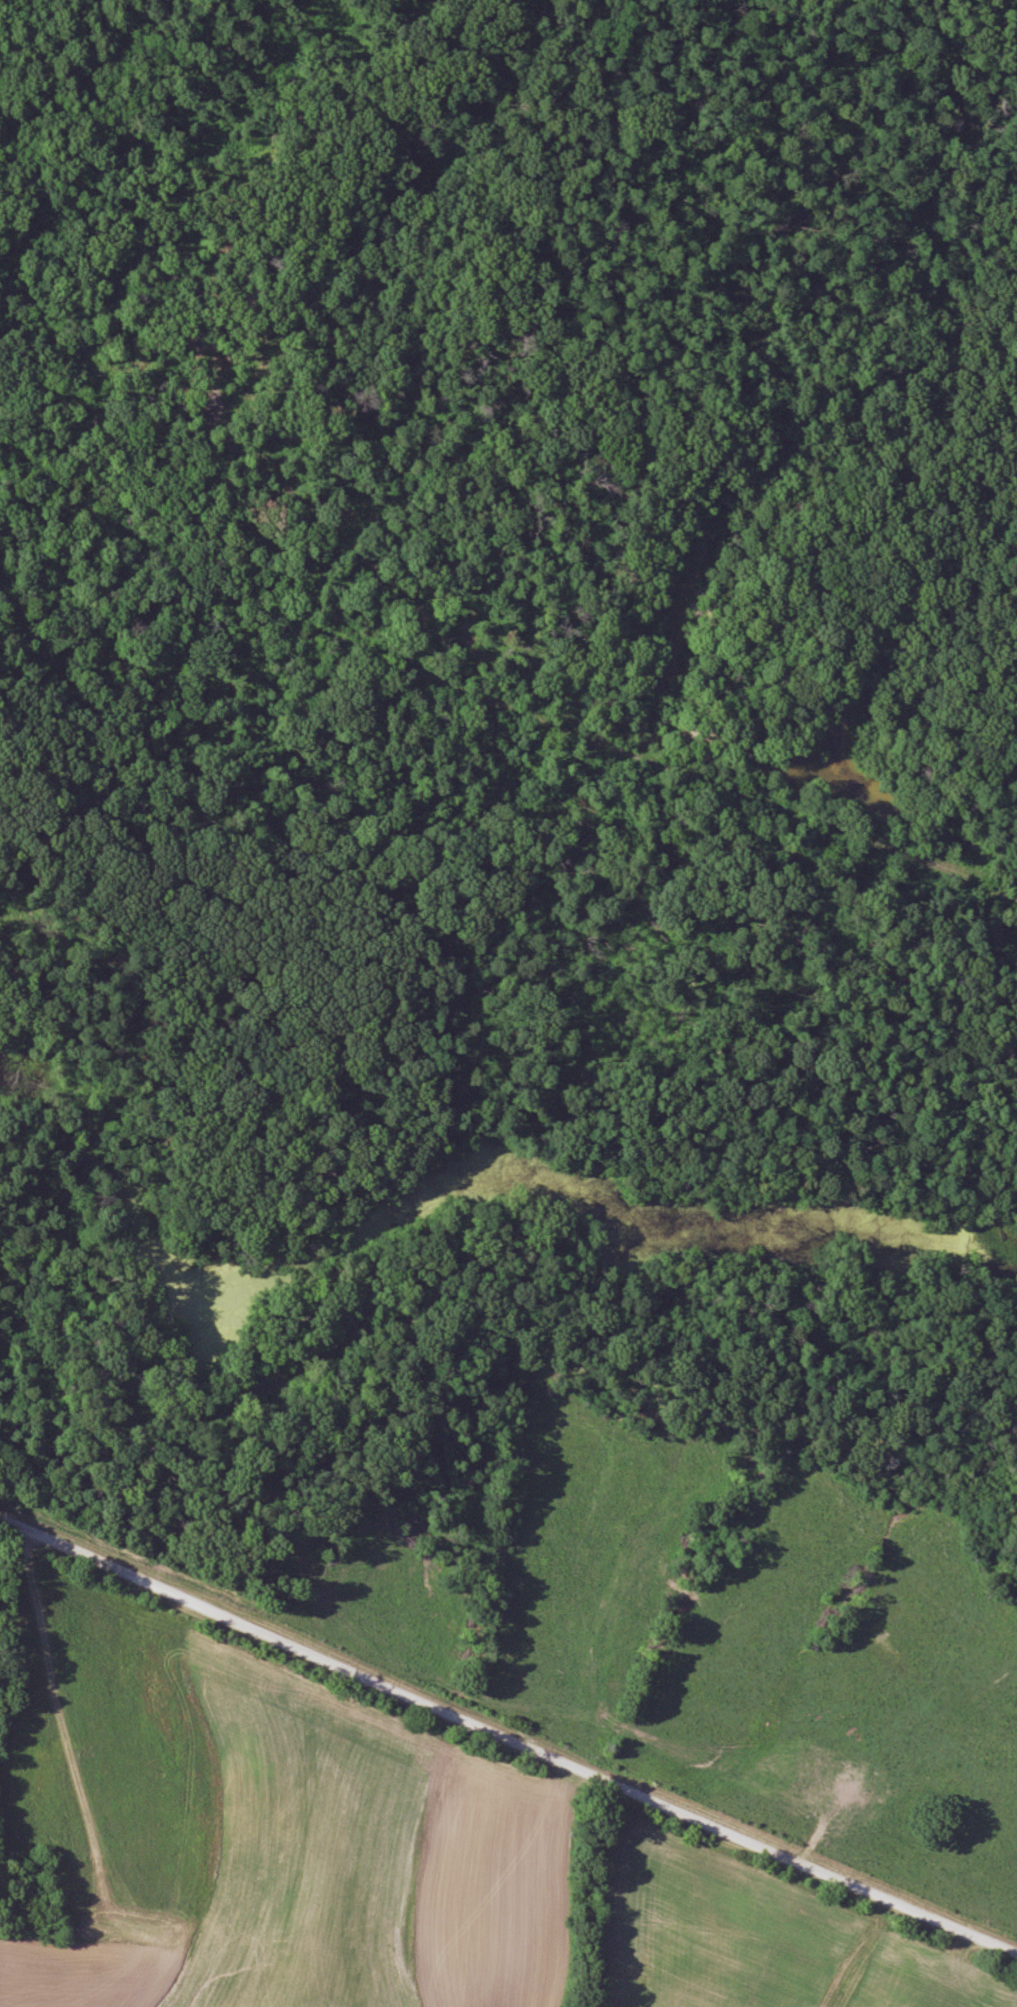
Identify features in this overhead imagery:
road: (507, 1735)

